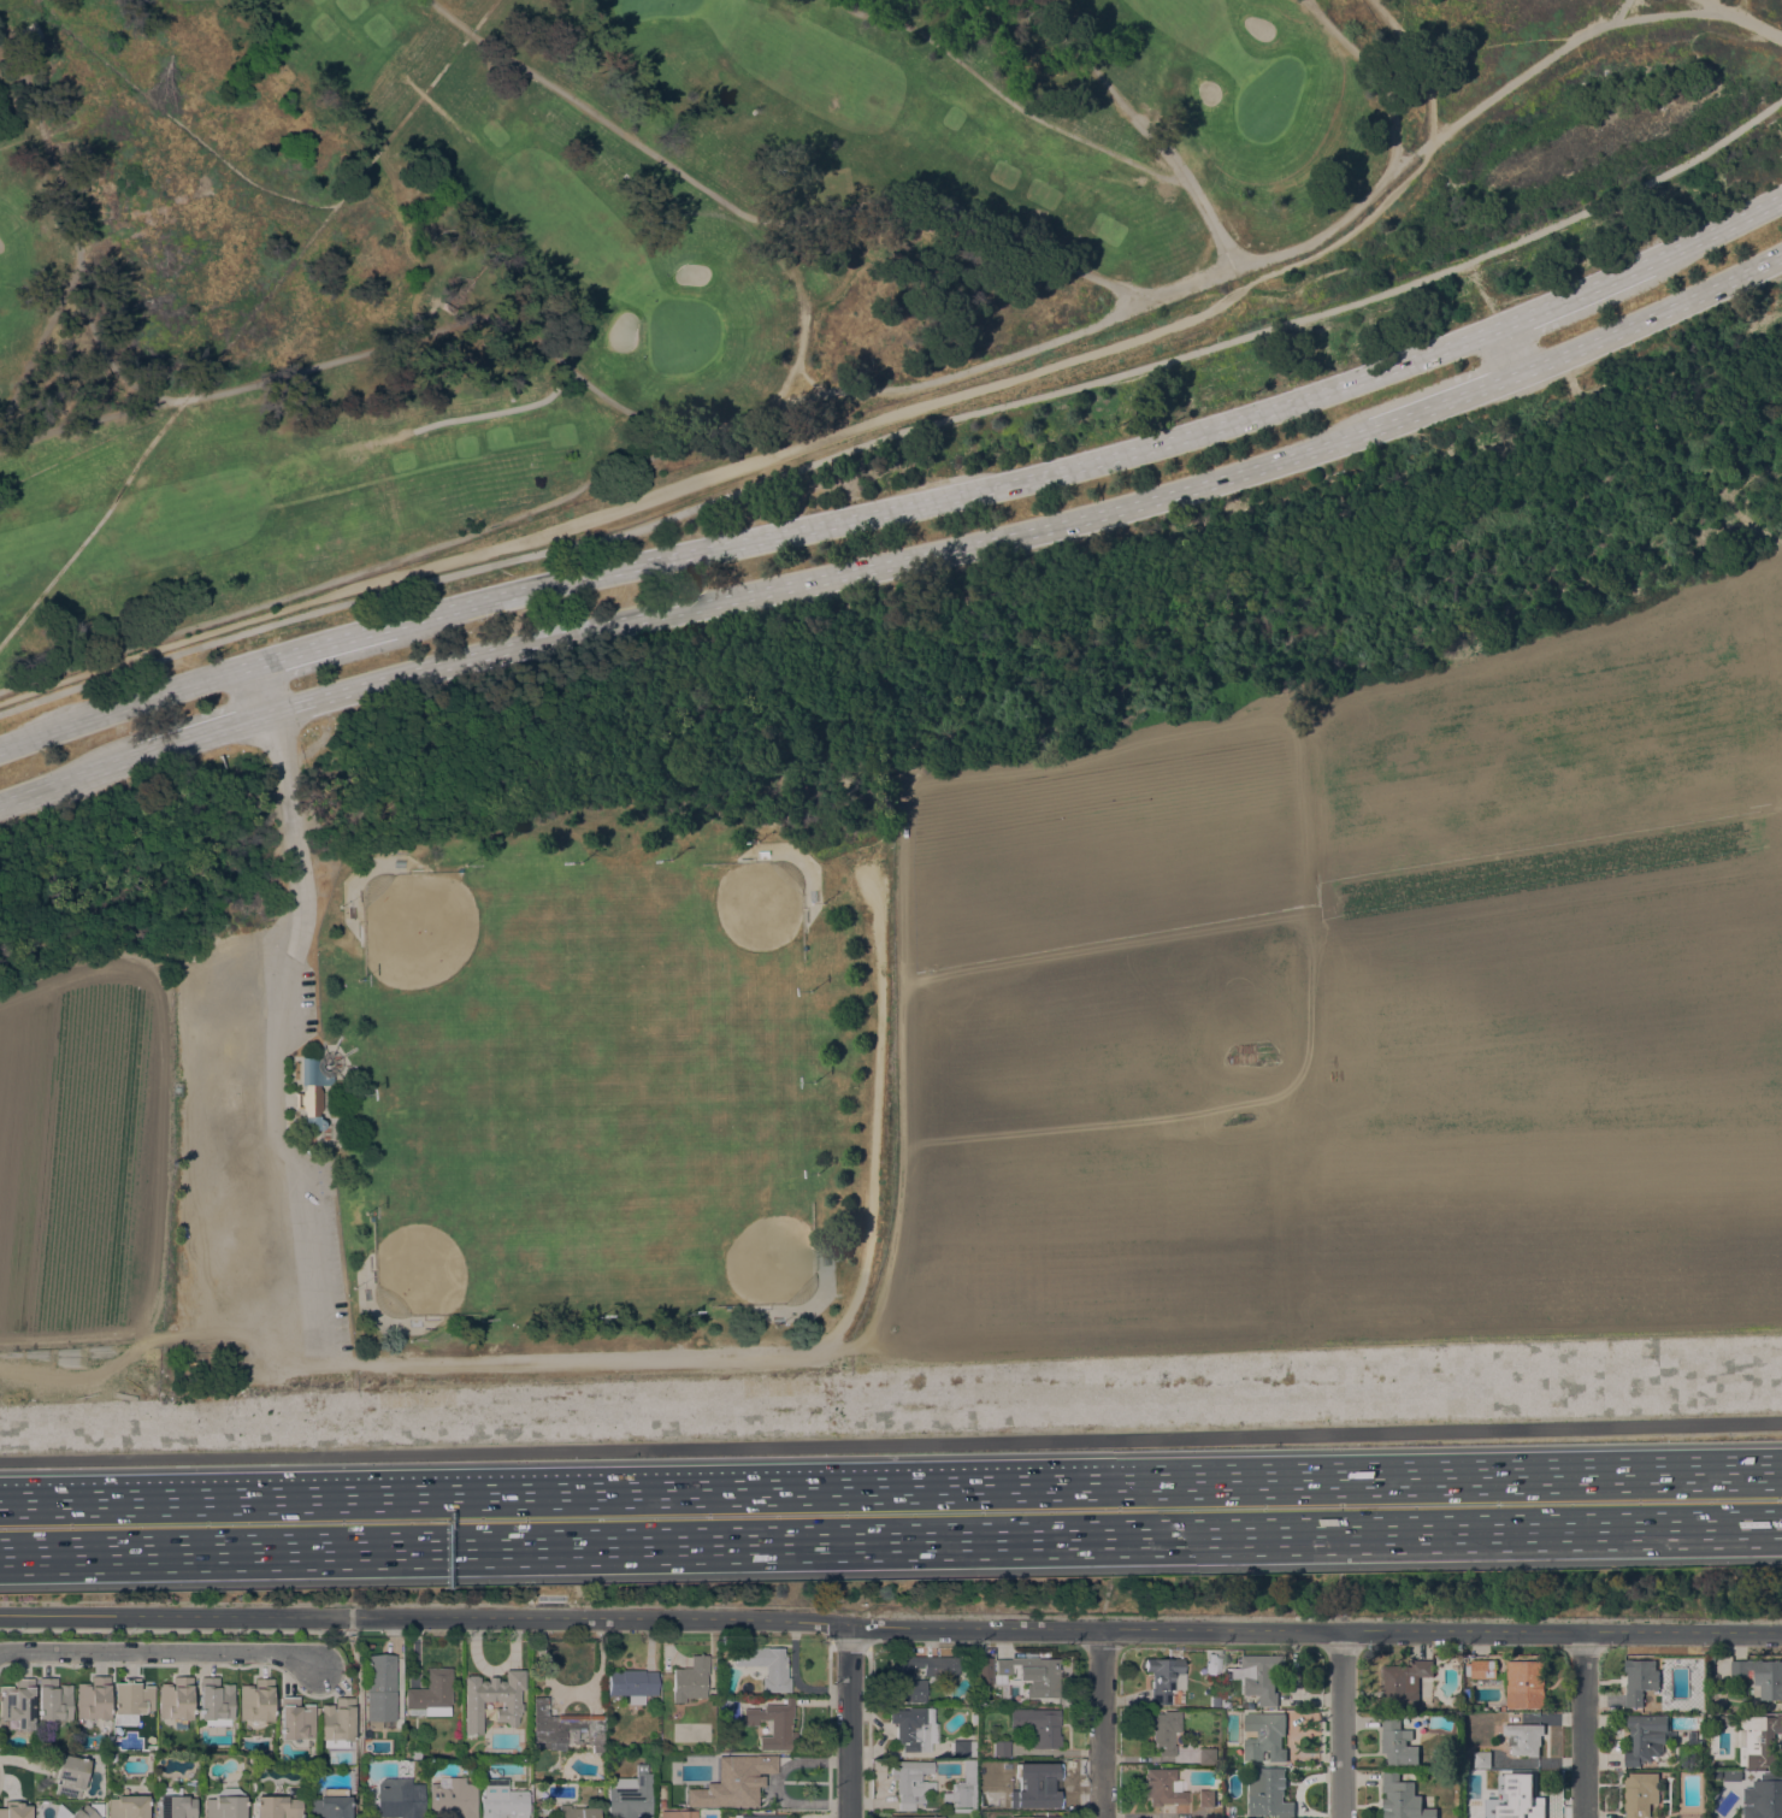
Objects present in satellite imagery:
park: (650, 6)
road: (1669, 14)
road: (1743, 18)
road: (1421, 65)
road: (1005, 98)
park: (1269, 98)
road: (430, 105)
road: (1145, 128)
road: (677, 170)
road: (1715, 230)
road: (75, 235)
road: (958, 236)
park: (578, 250)
road: (1574, 296)
road: (1651, 313)
park: (680, 332)
road: (1509, 350)
road: (807, 378)
road: (792, 397)
road: (1445, 400)
road: (496, 411)
road: (857, 426)
road: (901, 429)
road: (954, 495)
road: (821, 575)
road: (340, 578)
road: (325, 642)
road: (260, 686)
park: (887, 695)
road: (126, 704)
road: (199, 732)
road: (65, 778)
park: (728, 928)
park: (433, 939)
crop: (1369, 1008)
road: (271, 1022)
building: (314, 1093)
crop: (83, 1147)
parking lot: (249, 1164)
park: (720, 1208)
park: (454, 1224)
road: (838, 1329)
road: (1305, 1345)
building: (229, 1356)
dam: (973, 1407)
dam: (891, 1438)
road: (891, 1438)
road: (891, 1492)
road: (891, 1536)
road: (890, 1625)
road: (161, 1652)
building: (766, 1666)
building: (1481, 1669)
building: (983, 1671)
building: (1032, 1675)
building: (1762, 1675)
building: (1261, 1676)
building: (1163, 1677)
building: (899, 1678)
building: (1642, 1678)
building: (689, 1680)
building: (1405, 1681)
building: (1524, 1683)
building: (631, 1684)
building: (379, 1689)
building: (430, 1694)
building: (132, 1696)
building: (93, 1699)
building: (492, 1699)
building: (1176, 1699)
building: (53, 1700)
building: (1426, 1700)
building: (176, 1701)
building: (216, 1702)
building: (18, 1704)
building: (256, 1704)
building: (1225, 1705)
building: (1697, 1706)
building: (1475, 1707)
building: (973, 1718)
building: (1723, 1719)
road: (848, 1720)
building: (296, 1722)
building: (337, 1723)
road: (1101, 1723)
road: (1341, 1723)
road: (1583, 1724)
building: (773, 1725)
building: (1037, 1725)
building: (914, 1728)
building: (565, 1729)
building: (1163, 1730)
building: (1263, 1735)
building: (1523, 1737)
building: (1646, 1737)
building: (1757, 1739)
building: (1398, 1741)
building: (1697, 1742)
building: (962, 1748)
building: (1001, 1748)
building: (414, 1753)
building: (350, 1754)
building: (1205, 1757)
building: (1482, 1759)
building: (1733, 1775)
building: (69, 1776)
building: (733, 1781)
building: (911, 1782)
building: (1039, 1782)
building: (1162, 1787)
building: (1267, 1789)
building: (961, 1790)
building: (1523, 1793)
building: (1640, 1793)
building: (660, 1794)
building: (629, 1795)
building: (1764, 1796)
building: (399, 1798)
building: (452, 1799)
building: (1205, 1799)
building: (1403, 1799)
building: (501, 1800)
building: (999, 1801)
building: (172, 1804)
building: (225, 1804)
building: (330, 1804)
building: (662, 1804)
building: (126, 1806)
building: (277, 1807)
building: (14, 1810)
building: (79, 1811)
building: (1234, 1811)
building: (1447, 1811)
building: (576, 1812)
building: (677, 1814)
building: (1480, 1814)
building: (1703, 1816)
building: (757, 1817)
building: (916, 1817)
building: (1034, 1817)

